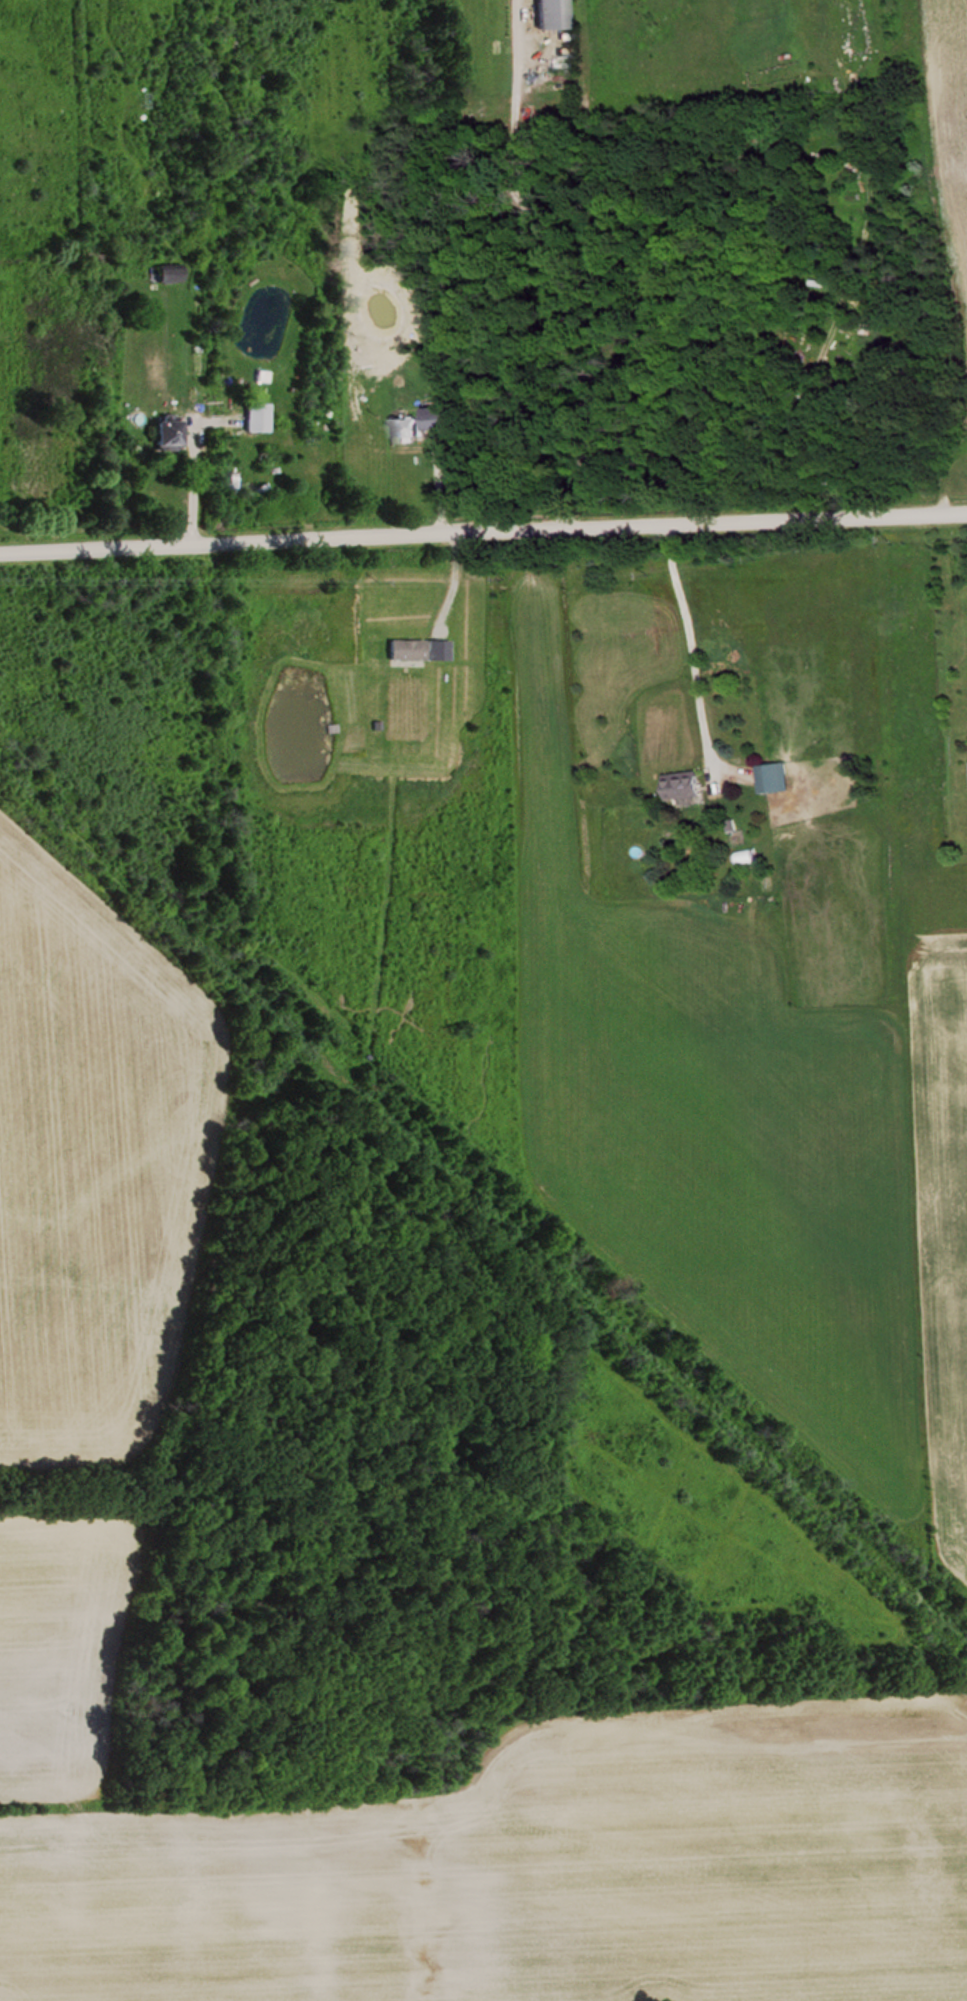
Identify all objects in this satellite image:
building: (555, 13)
road: (562, 260)
building: (170, 271)
building: (874, 340)
building: (259, 416)
building: (424, 424)
building: (171, 433)
road: (483, 533)
building: (409, 650)
building: (776, 778)
building: (686, 787)
railway: (485, 1196)

